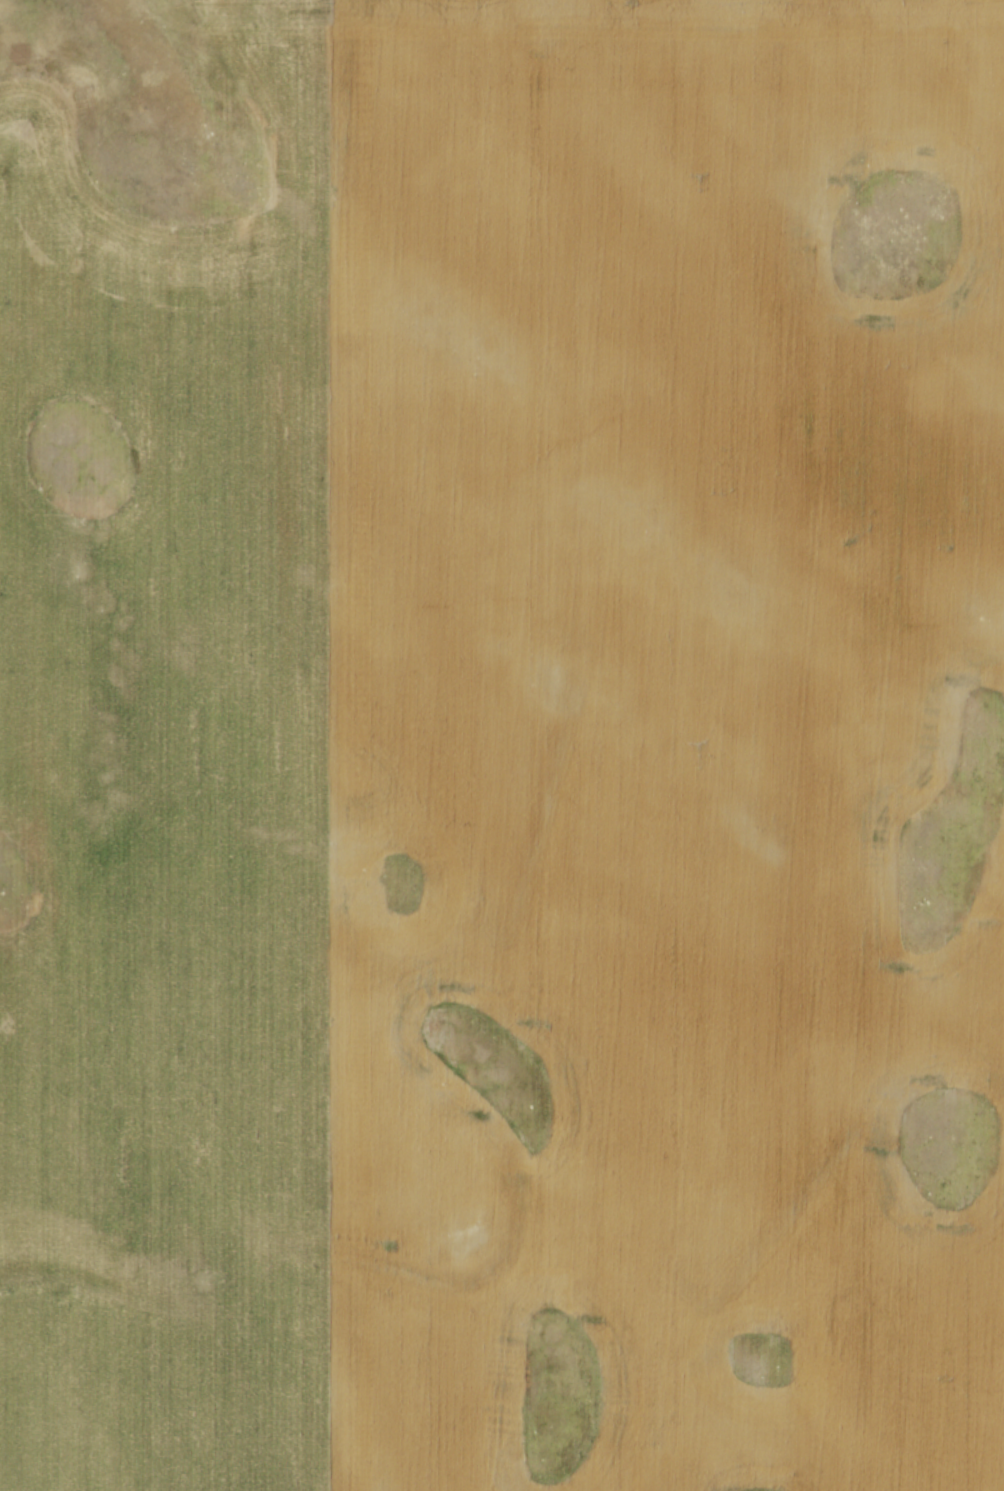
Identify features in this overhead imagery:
crop: (512, 763)

